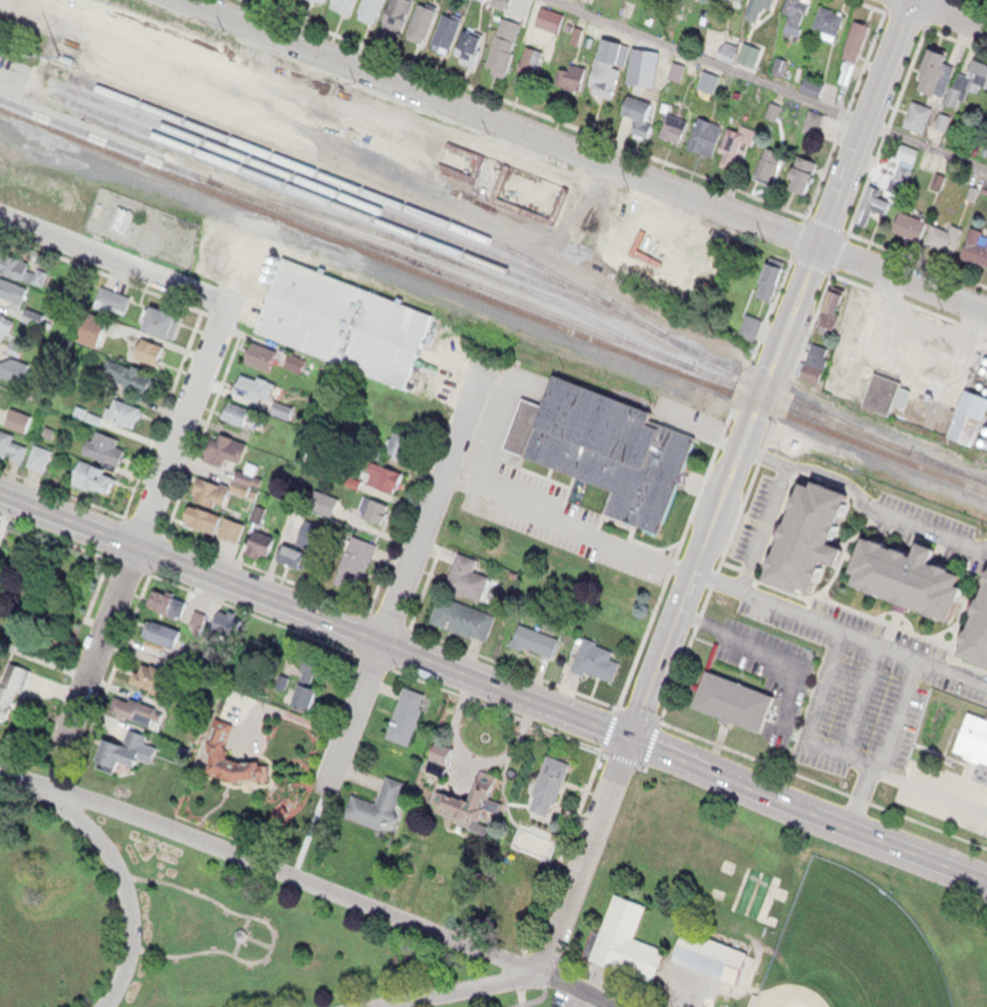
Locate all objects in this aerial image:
building: (734, 0)
building: (323, 1)
road: (874, 3)
building: (340, 4)
building: (753, 6)
building: (367, 8)
road: (954, 12)
building: (393, 14)
building: (793, 14)
building: (827, 16)
building: (418, 18)
building: (444, 24)
road: (935, 26)
building: (855, 35)
building: (502, 40)
building: (468, 44)
building: (748, 52)
building: (527, 58)
building: (605, 63)
building: (932, 69)
building: (569, 71)
building: (976, 74)
road: (10, 77)
building: (710, 81)
road: (770, 83)
building: (814, 87)
building: (639, 108)
building: (920, 117)
building: (671, 118)
building: (944, 121)
building: (701, 131)
road: (883, 135)
building: (734, 142)
road: (638, 148)
railway: (163, 152)
road: (585, 153)
building: (765, 161)
building: (802, 167)
building: (902, 172)
railway: (335, 192)
building: (874, 200)
railway: (360, 213)
building: (907, 219)
building: (125, 220)
building: (941, 232)
railway: (499, 242)
building: (974, 242)
road: (895, 247)
road: (112, 260)
building: (682, 260)
building: (17, 262)
road: (809, 262)
railway: (471, 267)
railway: (463, 277)
building: (770, 279)
building: (10, 286)
railway: (493, 299)
road: (908, 299)
building: (116, 300)
building: (829, 303)
road: (195, 308)
building: (159, 310)
building: (342, 317)
building: (7, 322)
building: (166, 322)
building: (752, 327)
building: (94, 330)
building: (148, 346)
road: (800, 346)
parking lot: (894, 347)
building: (17, 348)
building: (261, 351)
building: (813, 357)
building: (262, 361)
building: (14, 369)
road: (771, 369)
building: (134, 371)
building: (253, 380)
building: (882, 386)
building: (125, 407)
building: (236, 410)
building: (970, 411)
building: (19, 420)
road: (201, 429)
building: (398, 439)
building: (102, 440)
building: (11, 443)
building: (227, 445)
building: (610, 445)
building: (41, 458)
railway: (957, 469)
building: (384, 471)
building: (90, 472)
parking lot: (540, 483)
building: (208, 487)
road: (861, 502)
building: (375, 505)
parking lot: (922, 509)
building: (202, 511)
parking lot: (749, 514)
building: (0, 526)
road: (140, 526)
building: (808, 534)
building: (258, 538)
building: (262, 549)
road: (841, 549)
road: (842, 550)
building: (291, 552)
road: (850, 553)
building: (354, 558)
road: (714, 570)
road: (403, 572)
building: (465, 572)
building: (910, 573)
road: (713, 579)
road: (95, 584)
building: (167, 597)
road: (961, 601)
road: (857, 607)
road: (895, 611)
building: (464, 613)
road: (959, 618)
building: (199, 621)
building: (158, 626)
building: (976, 627)
building: (228, 632)
building: (535, 636)
parking lot: (898, 636)
road: (386, 642)
road: (342, 647)
road: (774, 648)
building: (191, 656)
building: (596, 656)
parking lot: (771, 668)
building: (149, 671)
road: (106, 677)
road: (551, 678)
building: (11, 684)
building: (304, 687)
building: (734, 694)
parking lot: (860, 702)
building: (138, 705)
building: (404, 710)
road: (850, 713)
building: (974, 737)
road: (882, 741)
building: (120, 742)
building: (233, 754)
building: (123, 755)
building: (444, 755)
road: (800, 772)
building: (548, 781)
building: (469, 794)
road: (946, 794)
parking lot: (944, 796)
building: (379, 799)
building: (530, 835)
road: (880, 836)
park: (121, 842)
road: (584, 850)
road: (557, 851)
road: (261, 861)
road: (122, 887)
building: (629, 941)
park: (850, 944)
building: (715, 956)
road: (496, 970)
road: (577, 996)
road: (541, 997)
parking lot: (566, 999)

